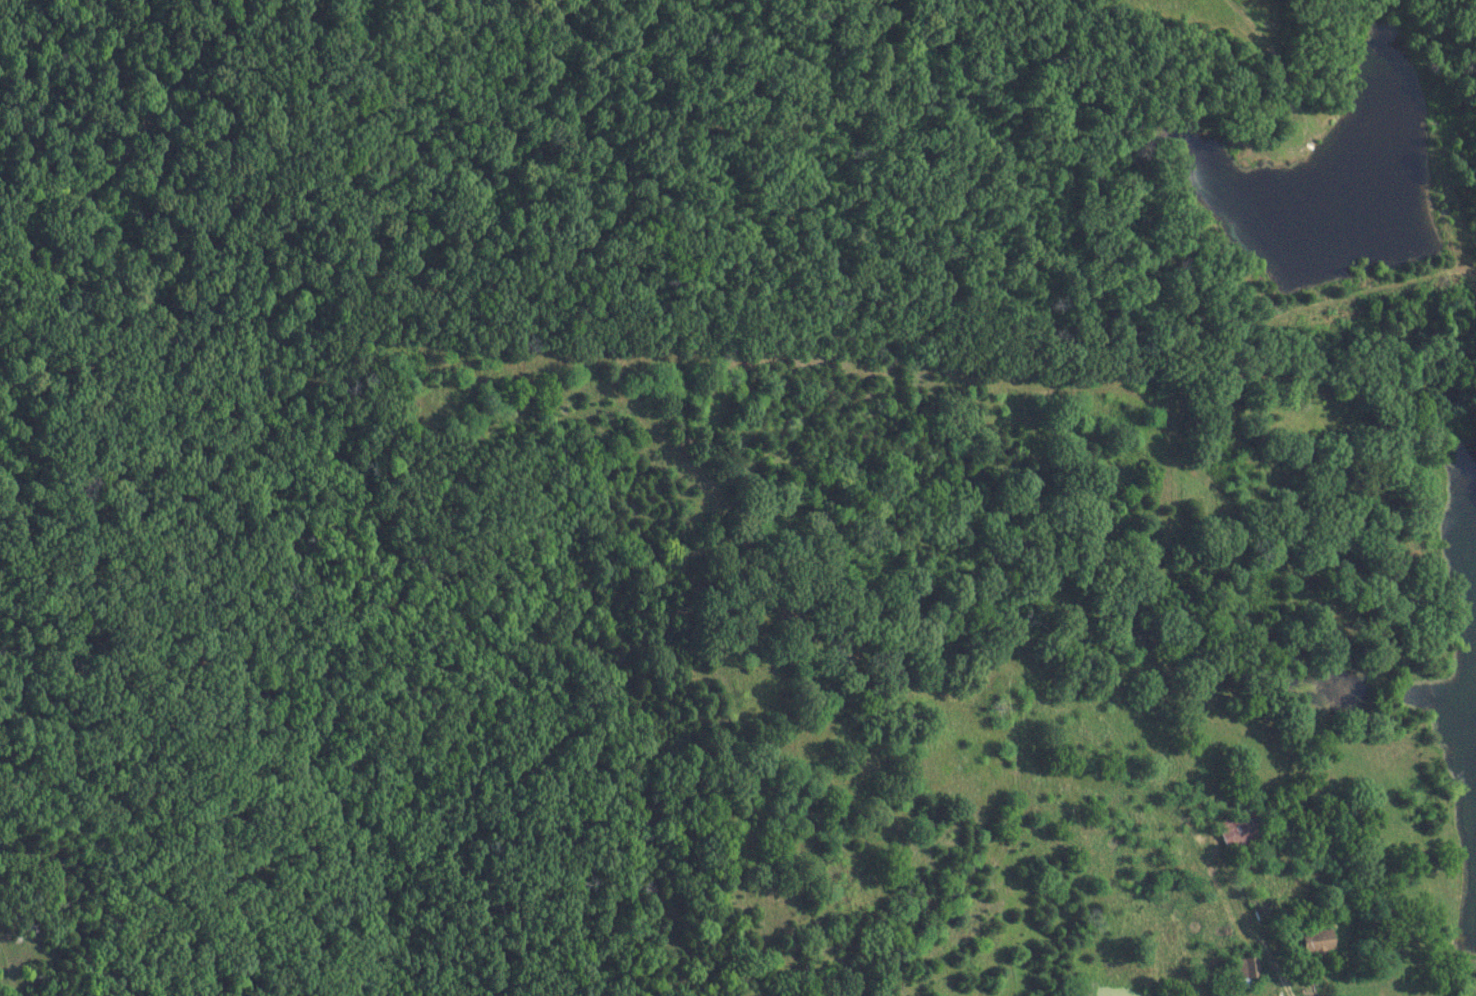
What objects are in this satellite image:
building: (1243, 830)
building: (1320, 941)
building: (1247, 972)
road: (1283, 972)

